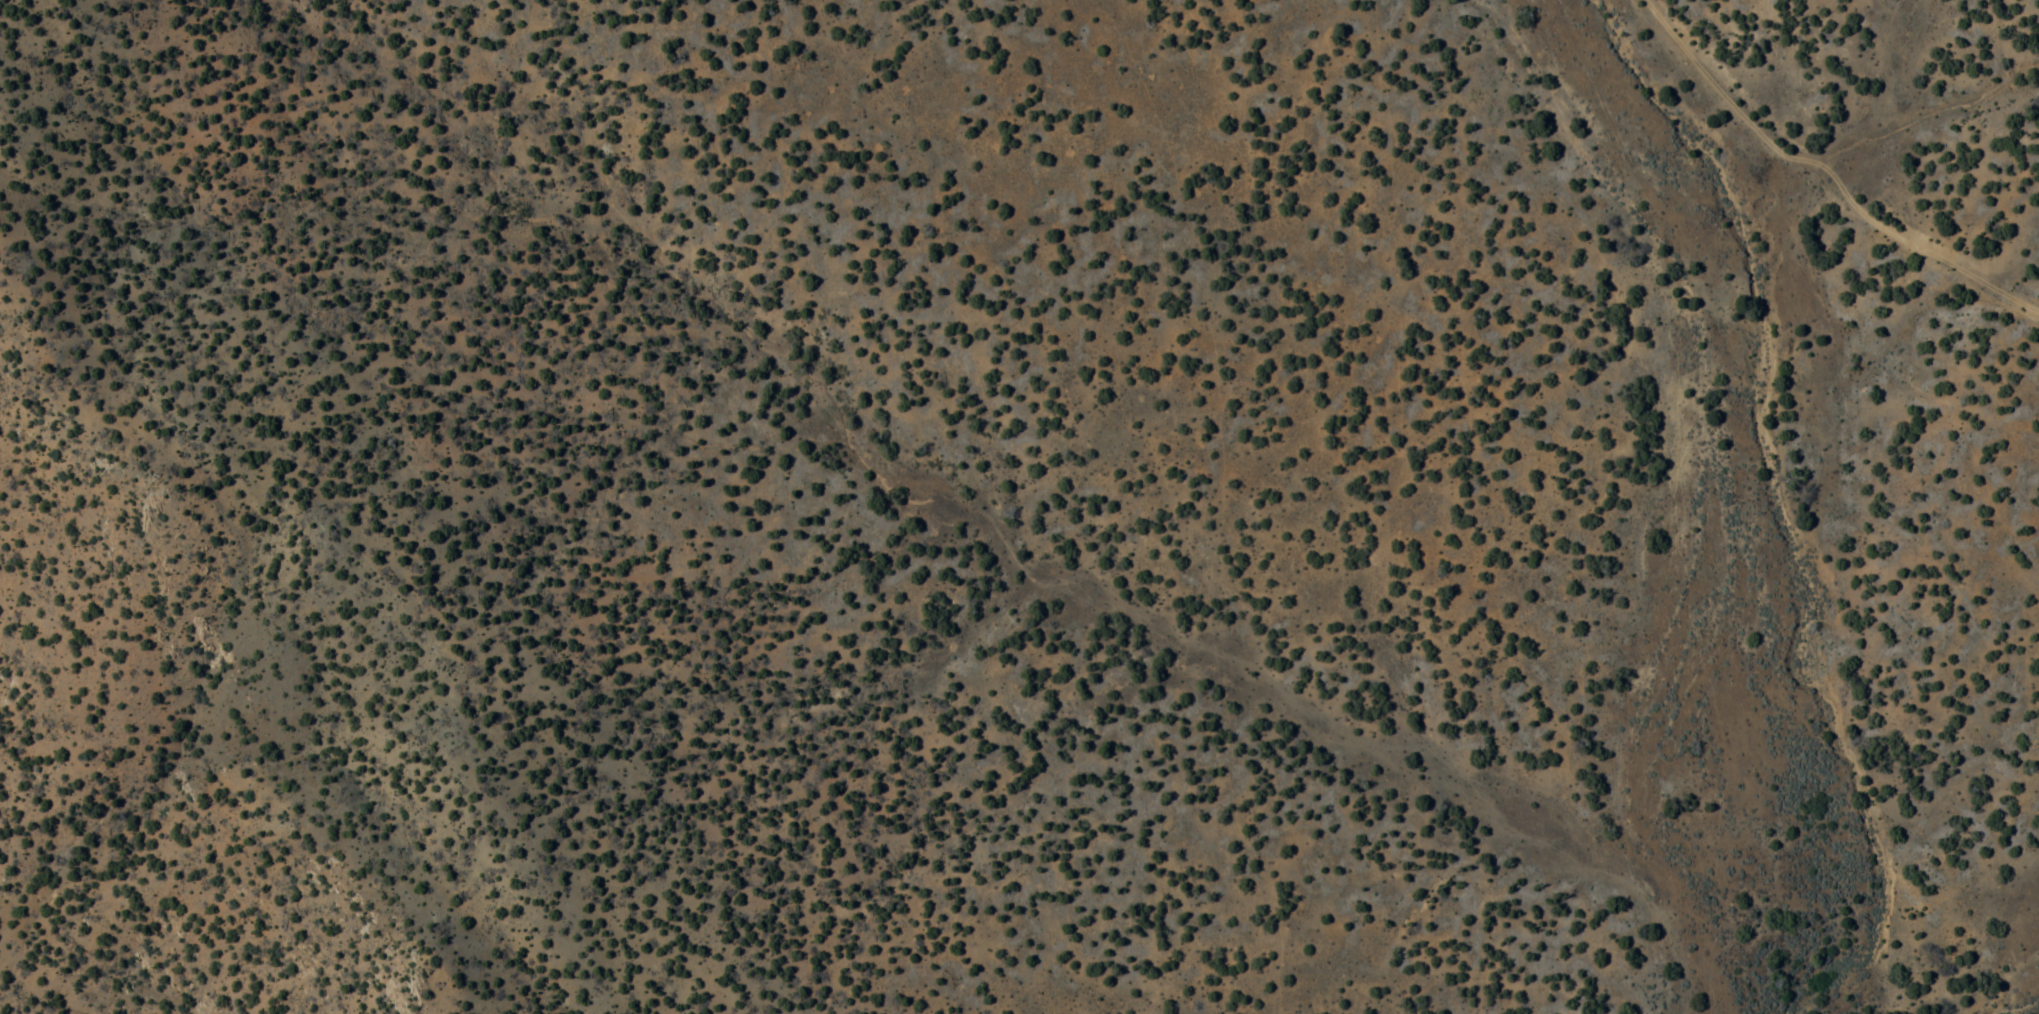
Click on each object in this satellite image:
road: (1810, 189)

